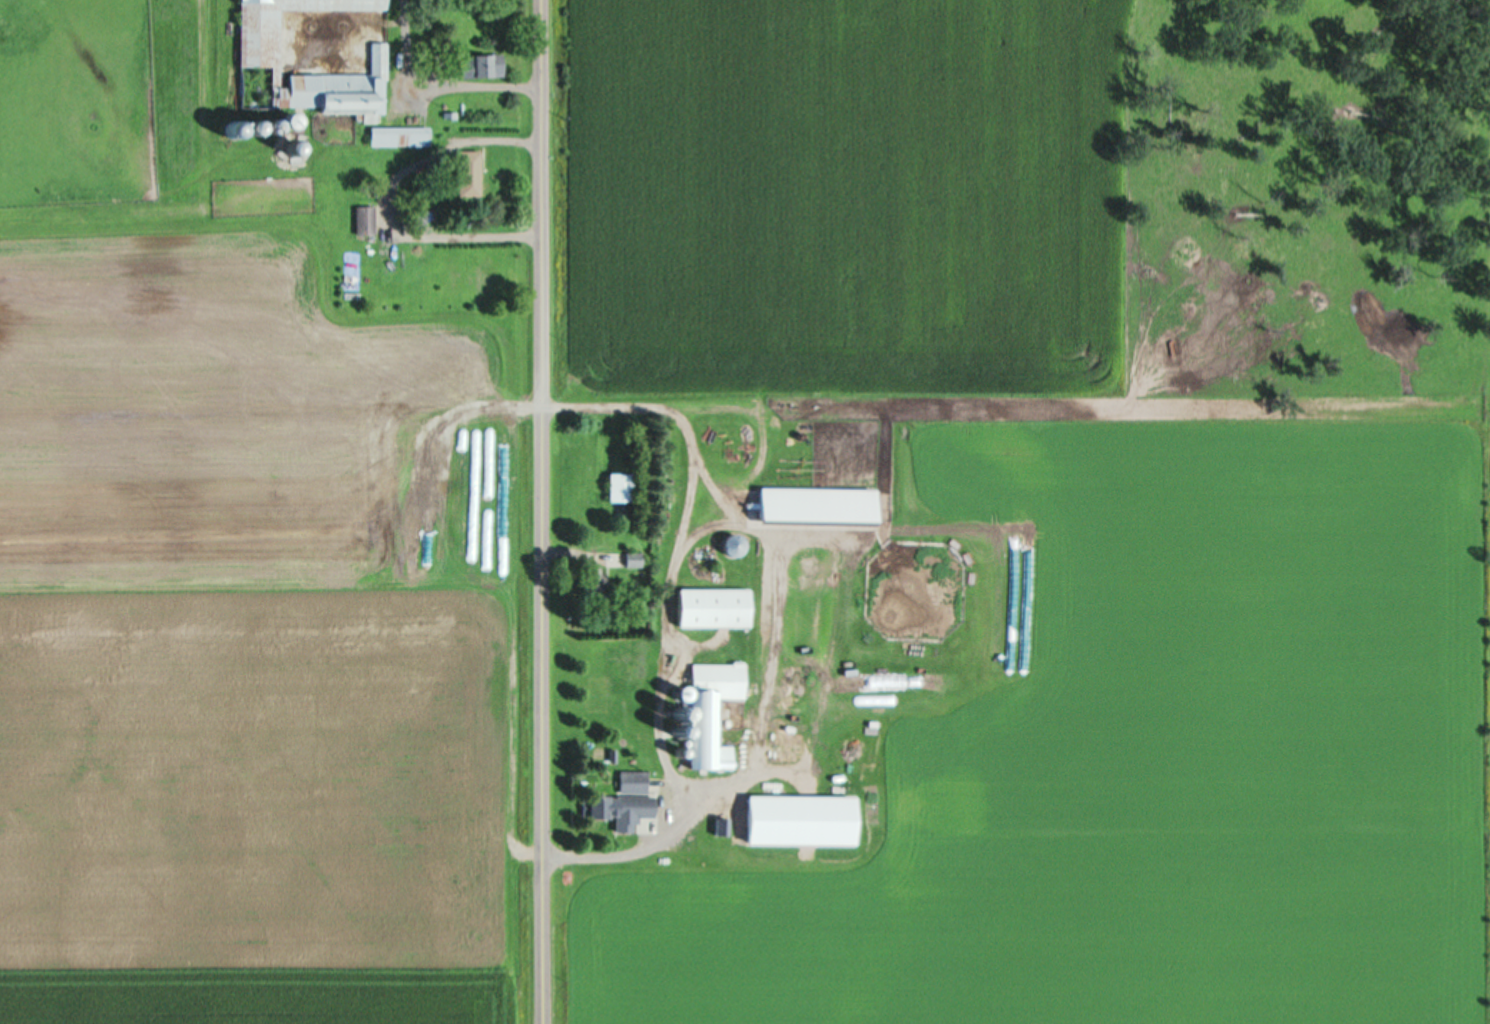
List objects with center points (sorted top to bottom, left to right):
building: (259, 58)
building: (481, 66)
building: (398, 137)
building: (467, 175)
building: (364, 221)
building: (725, 435)
building: (617, 487)
building: (815, 504)
road: (541, 511)
building: (496, 516)
building: (437, 539)
building: (732, 546)
building: (625, 560)
building: (592, 584)
building: (712, 608)
building: (711, 710)
building: (632, 781)
building: (600, 807)
building: (721, 820)

